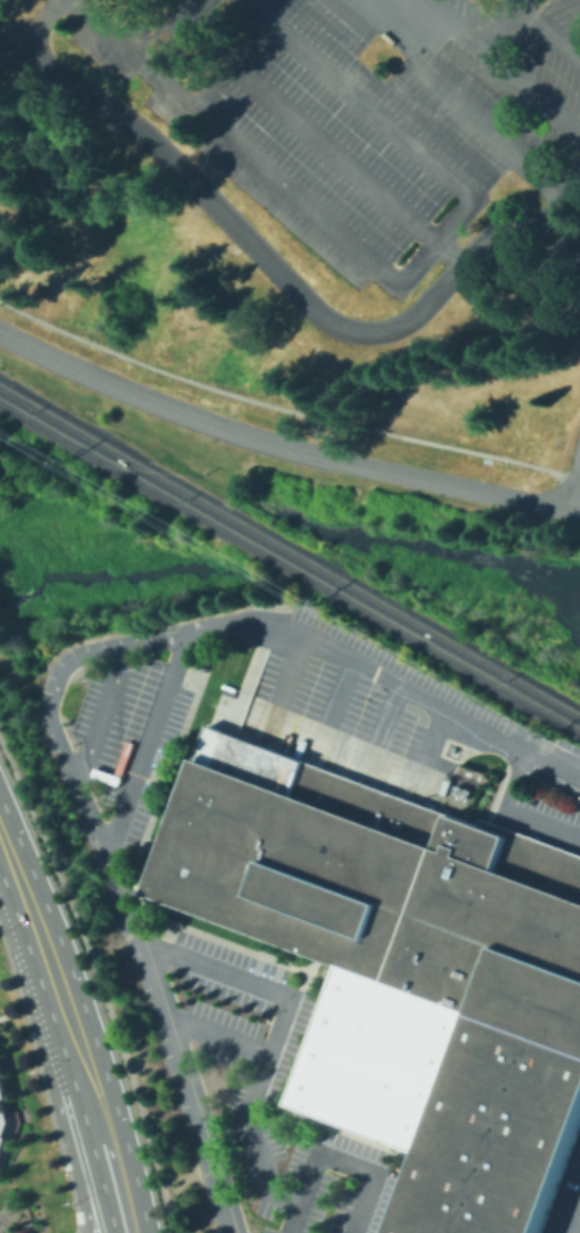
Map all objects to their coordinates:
road: (49, 21)
road: (419, 22)
road: (550, 27)
road: (483, 46)
parking lot: (522, 75)
road: (471, 110)
parking lot: (305, 119)
road: (300, 123)
road: (453, 255)
road: (278, 273)
road: (391, 277)
road: (283, 445)
road: (579, 511)
railway: (290, 549)
railway: (290, 564)
road: (294, 678)
road: (387, 680)
road: (340, 697)
road: (47, 698)
road: (99, 715)
road: (388, 721)
road: (147, 741)
building: (464, 791)
building: (454, 802)
building: (464, 806)
road: (510, 817)
road: (33, 916)
building: (414, 972)
road: (217, 1033)
road: (269, 1038)
road: (175, 1040)
building: (1, 1089)
road: (99, 1116)
road: (63, 1119)
building: (2, 1121)
building: (0, 1148)
road: (335, 1154)
road: (76, 1217)

